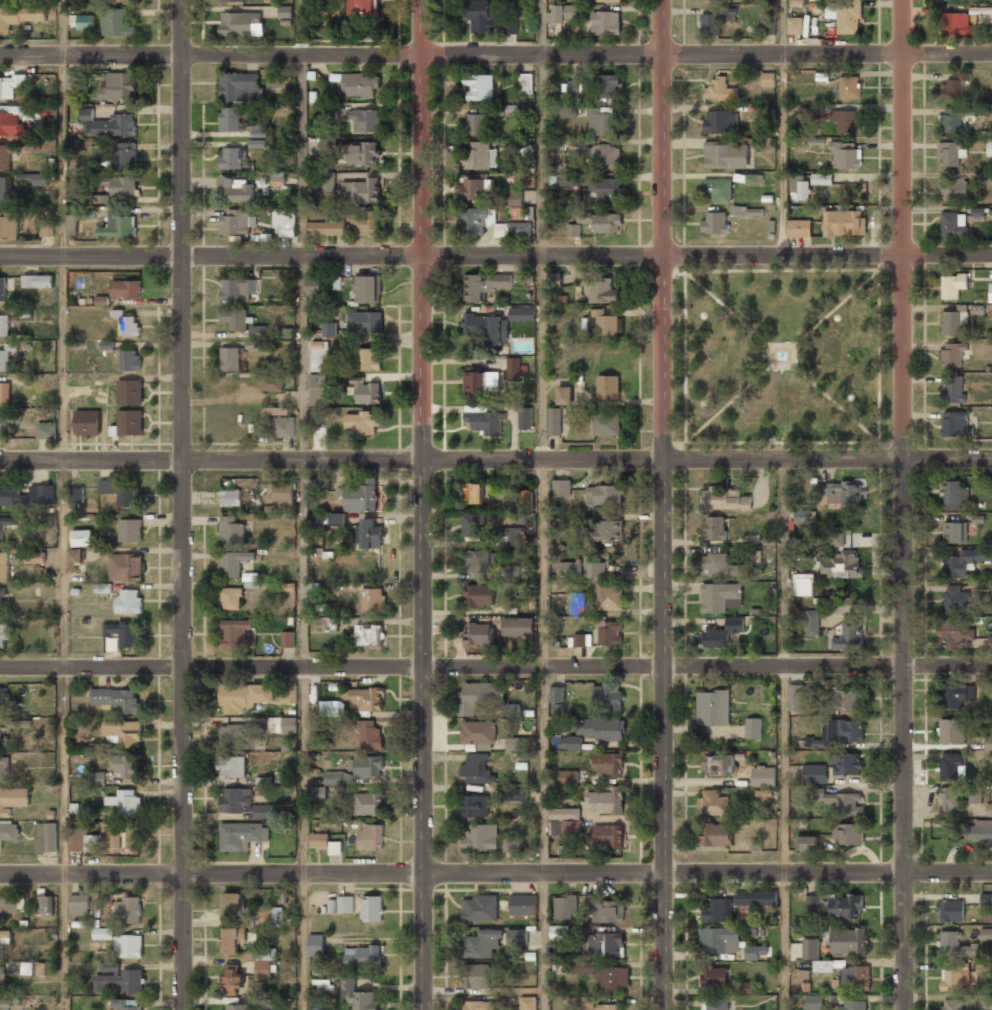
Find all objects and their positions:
building: (119, 0)
building: (233, 0)
building: (610, 1)
building: (364, 9)
building: (285, 11)
building: (986, 13)
building: (20, 15)
building: (562, 15)
building: (845, 15)
building: (487, 18)
building: (716, 20)
building: (85, 21)
building: (116, 22)
building: (606, 22)
building: (957, 23)
building: (241, 24)
building: (767, 24)
building: (794, 25)
road: (947, 52)
road: (451, 53)
building: (72, 79)
building: (768, 79)
building: (526, 83)
building: (359, 84)
building: (12, 85)
building: (119, 86)
building: (237, 86)
building: (608, 86)
building: (954, 86)
building: (480, 87)
building: (573, 87)
building: (849, 87)
building: (720, 90)
building: (568, 111)
building: (766, 112)
building: (805, 113)
building: (22, 117)
building: (231, 118)
building: (365, 120)
building: (846, 120)
building: (954, 120)
building: (481, 121)
building: (600, 121)
building: (721, 122)
building: (108, 124)
road: (780, 127)
building: (259, 129)
building: (257, 143)
building: (32, 145)
building: (326, 146)
building: (989, 148)
building: (950, 153)
building: (363, 154)
building: (6, 155)
building: (125, 155)
building: (480, 155)
building: (528, 155)
building: (726, 155)
building: (845, 155)
building: (607, 156)
building: (232, 157)
building: (32, 178)
building: (753, 178)
building: (821, 178)
building: (991, 178)
building: (277, 179)
building: (570, 179)
building: (328, 181)
building: (120, 184)
building: (475, 187)
building: (606, 188)
building: (237, 189)
building: (717, 189)
building: (800, 189)
building: (957, 189)
building: (5, 190)
building: (360, 190)
building: (515, 197)
building: (739, 210)
building: (86, 212)
building: (977, 212)
building: (478, 219)
building: (284, 221)
building: (602, 221)
building: (235, 222)
building: (715, 222)
building: (844, 222)
building: (9, 223)
building: (72, 224)
building: (365, 224)
building: (954, 224)
building: (119, 226)
building: (46, 227)
building: (325, 228)
building: (799, 228)
building: (513, 229)
road: (663, 229)
road: (902, 229)
road: (183, 230)
road: (421, 230)
building: (573, 230)
road: (947, 254)
road: (451, 256)
road: (685, 257)
road: (880, 258)
building: (555, 279)
building: (38, 281)
building: (315, 284)
building: (483, 285)
building: (953, 285)
building: (3, 288)
building: (367, 288)
building: (126, 289)
building: (238, 289)
building: (600, 291)
building: (990, 292)
building: (102, 300)
road: (835, 307)
road: (728, 308)
building: (522, 314)
building: (235, 318)
building: (952, 320)
building: (364, 321)
building: (602, 323)
building: (128, 324)
building: (4, 325)
building: (489, 327)
building: (329, 329)
building: (258, 332)
fountain: (782, 355)
building: (951, 355)
building: (6, 356)
building: (320, 356)
park: (782, 356)
building: (230, 358)
building: (363, 358)
building: (130, 360)
road: (792, 365)
building: (513, 367)
building: (481, 381)
building: (272, 382)
building: (608, 386)
building: (317, 389)
building: (954, 389)
building: (130, 391)
building: (365, 391)
building: (5, 393)
building: (564, 395)
road: (728, 403)
road: (835, 403)
building: (276, 411)
building: (525, 417)
building: (9, 419)
building: (554, 421)
building: (87, 422)
building: (130, 422)
building: (361, 422)
building: (606, 423)
building: (955, 424)
building: (283, 426)
building: (46, 430)
road: (878, 441)
road: (686, 445)
road: (686, 459)
road: (947, 459)
road: (450, 460)
building: (321, 485)
building: (561, 487)
building: (283, 491)
building: (121, 492)
building: (473, 493)
building: (843, 493)
building: (955, 493)
building: (26, 494)
building: (75, 494)
building: (604, 494)
building: (527, 495)
building: (230, 497)
building: (360, 498)
building: (724, 498)
road: (542, 504)
road: (64, 505)
road: (303, 505)
building: (805, 518)
building: (326, 519)
building: (474, 525)
building: (713, 527)
building: (130, 530)
building: (231, 530)
building: (608, 530)
building: (955, 532)
building: (369, 533)
building: (1, 534)
building: (506, 536)
building: (82, 538)
building: (836, 538)
building: (34, 557)
building: (75, 559)
building: (478, 560)
building: (966, 561)
building: (233, 562)
building: (840, 564)
building: (4, 565)
building: (721, 565)
building: (594, 566)
building: (125, 567)
building: (568, 568)
building: (512, 572)
building: (803, 584)
building: (315, 592)
building: (480, 595)
building: (609, 596)
building: (720, 597)
building: (231, 598)
building: (956, 598)
building: (2, 599)
building: (372, 600)
building: (129, 601)
building: (577, 603)
building: (809, 621)
building: (330, 623)
building: (519, 626)
building: (4, 632)
building: (610, 632)
building: (237, 633)
building: (721, 633)
building: (956, 633)
building: (369, 634)
building: (480, 634)
building: (120, 635)
building: (849, 636)
building: (288, 639)
building: (582, 640)
building: (990, 641)
road: (947, 663)
road: (451, 667)
building: (556, 694)
building: (289, 695)
building: (959, 695)
building: (244, 696)
building: (607, 697)
building: (796, 697)
building: (116, 698)
building: (3, 699)
building: (364, 699)
building: (485, 699)
building: (331, 708)
building: (713, 708)
building: (557, 709)
building: (282, 725)
building: (600, 728)
building: (753, 728)
building: (841, 730)
building: (952, 731)
building: (123, 732)
building: (242, 734)
building: (370, 734)
road: (782, 734)
road: (903, 734)
road: (183, 735)
road: (423, 735)
road: (663, 735)
road: (685, 739)
building: (3, 740)
building: (570, 742)
building: (988, 742)
building: (815, 743)
building: (607, 763)
building: (845, 763)
building: (720, 764)
building: (125, 765)
building: (232, 766)
building: (366, 766)
building: (953, 767)
building: (4, 768)
building: (477, 768)
building: (814, 773)
building: (763, 776)
building: (567, 777)
building: (339, 778)
building: (96, 779)
building: (817, 792)
building: (317, 793)
building: (764, 793)
building: (514, 795)
building: (974, 795)
building: (13, 799)
building: (950, 799)
building: (606, 800)
building: (126, 803)
building: (242, 803)
building: (713, 803)
building: (846, 803)
building: (363, 804)
building: (475, 806)
building: (989, 810)
building: (564, 813)
building: (565, 827)
building: (978, 830)
building: (8, 833)
building: (847, 833)
building: (242, 835)
building: (716, 835)
building: (120, 836)
building: (371, 836)
building: (609, 836)
building: (46, 837)
building: (481, 837)
building: (77, 839)
building: (319, 840)
building: (512, 842)
building: (807, 842)
building: (93, 843)
building: (334, 848)
road: (452, 873)
road: (948, 874)
building: (755, 897)
building: (986, 899)
building: (812, 903)
building: (46, 904)
building: (80, 904)
building: (232, 904)
building: (345, 904)
building: (523, 904)
building: (8, 905)
building: (565, 907)
building: (844, 907)
building: (372, 908)
building: (480, 908)
building: (717, 909)
building: (128, 910)
building: (603, 910)
building: (951, 910)
building: (560, 932)
building: (103, 933)
building: (986, 934)
building: (3, 936)
building: (517, 937)
building: (719, 939)
building: (233, 940)
building: (848, 940)
building: (316, 944)
building: (482, 944)
building: (606, 944)
building: (956, 945)
building: (128, 946)
building: (810, 949)
building: (755, 952)
building: (363, 956)
building: (264, 959)
building: (822, 966)
building: (25, 968)
building: (594, 972)
building: (476, 976)
building: (714, 976)
building: (2, 977)
building: (856, 977)
building: (118, 978)
building: (232, 979)
building: (953, 979)
building: (322, 984)
building: (746, 987)
building: (358, 995)
building: (814, 1002)
building: (989, 1002)
building: (528, 1003)
building: (580, 1003)
building: (4, 1004)
building: (126, 1004)
building: (715, 1004)
building: (952, 1004)
building: (480, 1005)
building: (853, 1005)
building: (237, 1006)
building: (610, 1007)

